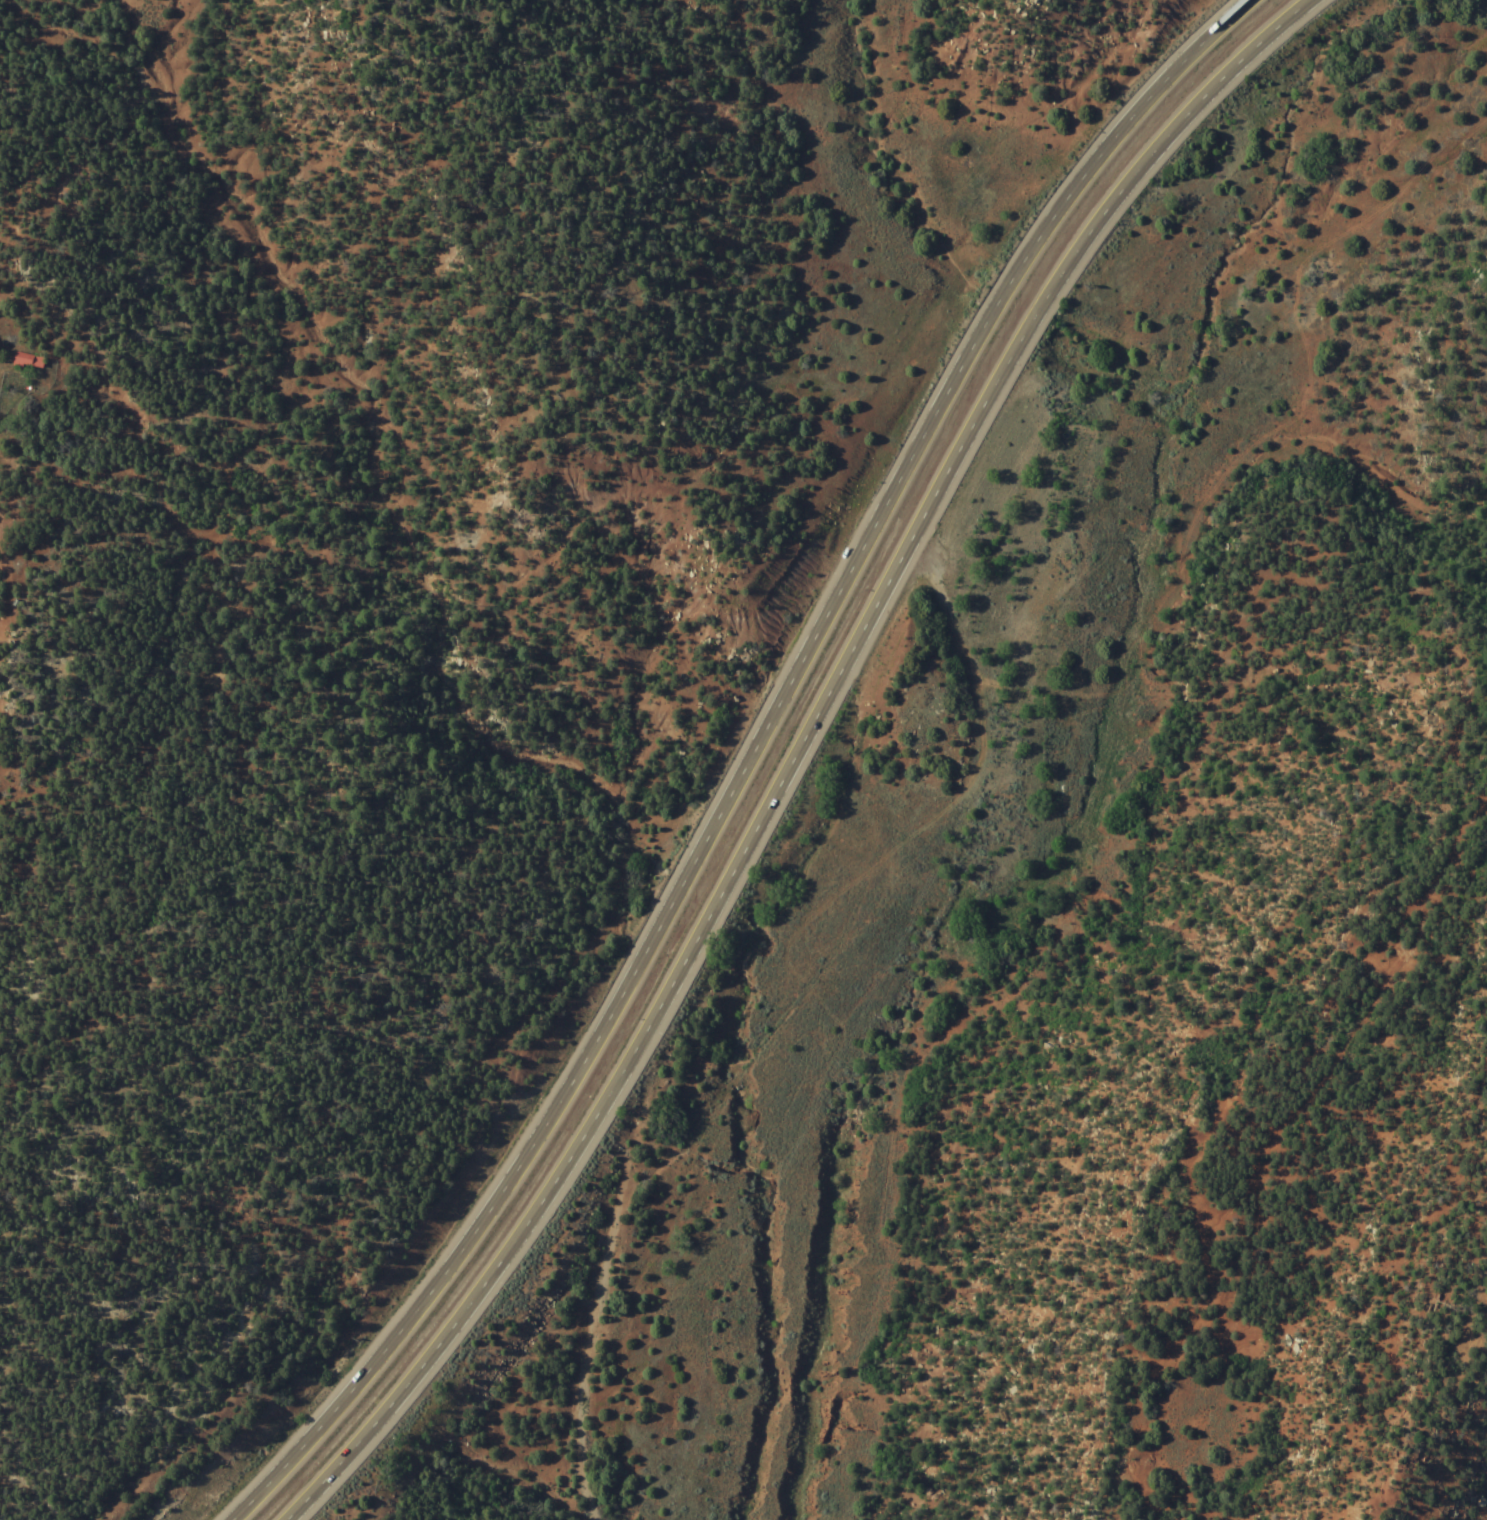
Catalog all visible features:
road: (1139, 165)
building: (27, 359)
road: (756, 763)
road: (686, 967)
road: (573, 1358)

